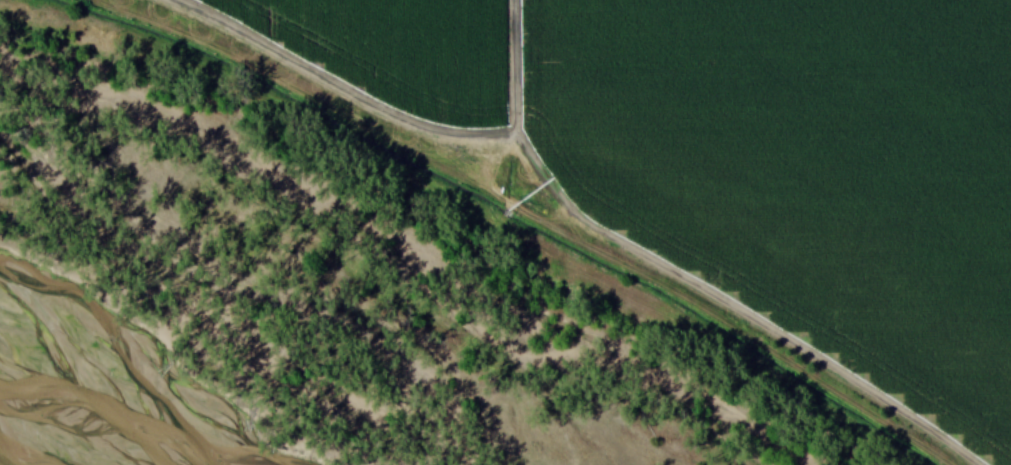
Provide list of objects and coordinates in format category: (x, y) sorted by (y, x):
crop: (397, 48)
crop: (808, 167)
river: (37, 413)

